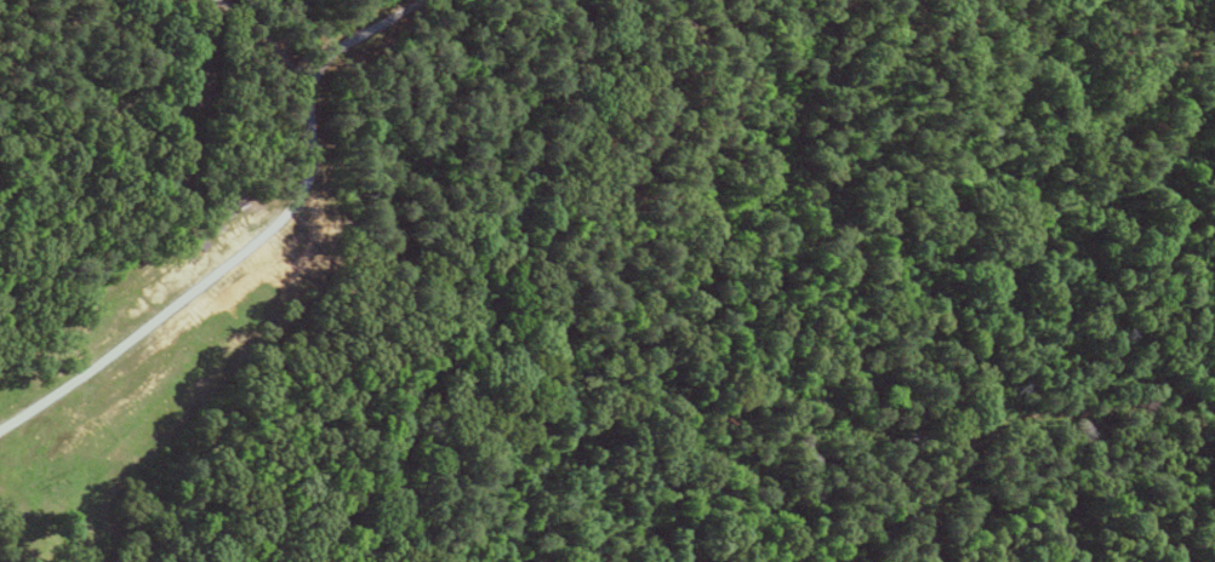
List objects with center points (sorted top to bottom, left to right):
road: (257, 35)
road: (360, 35)
road: (689, 74)
road: (204, 280)

